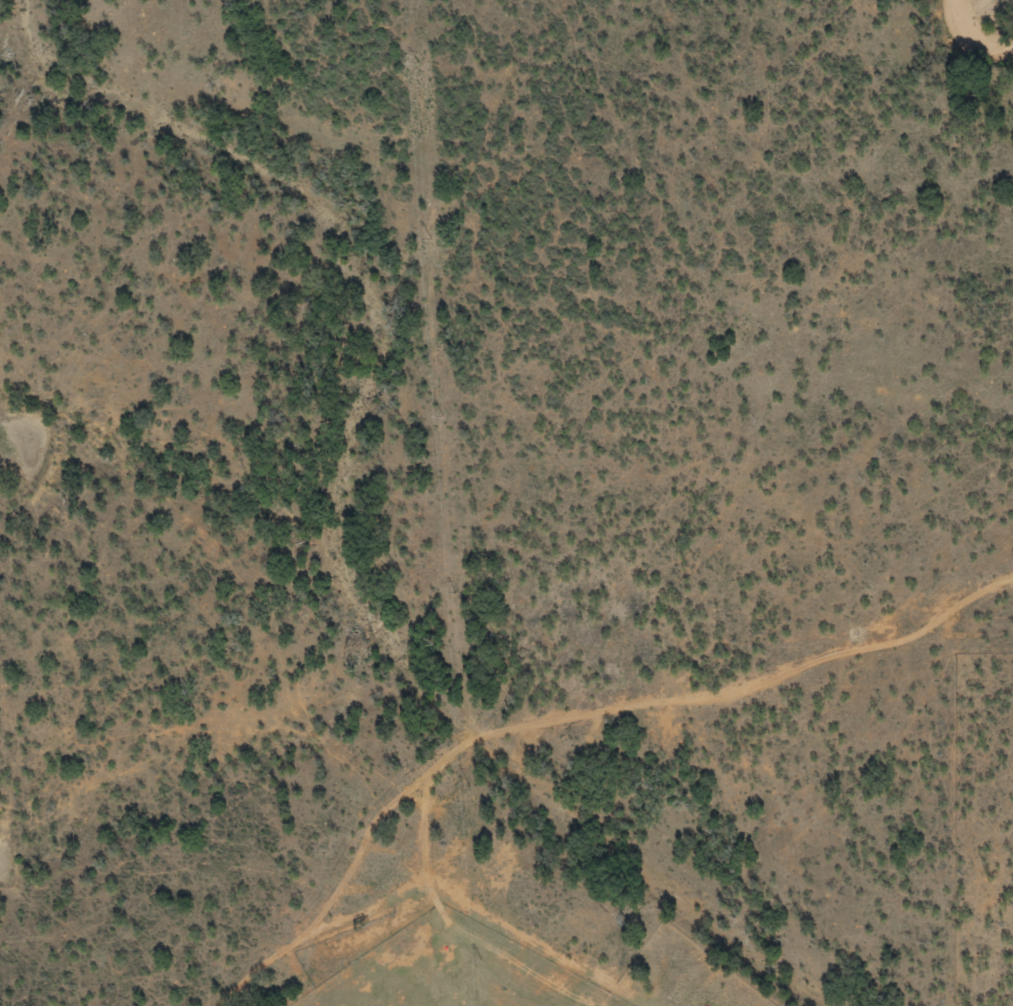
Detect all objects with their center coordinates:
road: (400, 932)

